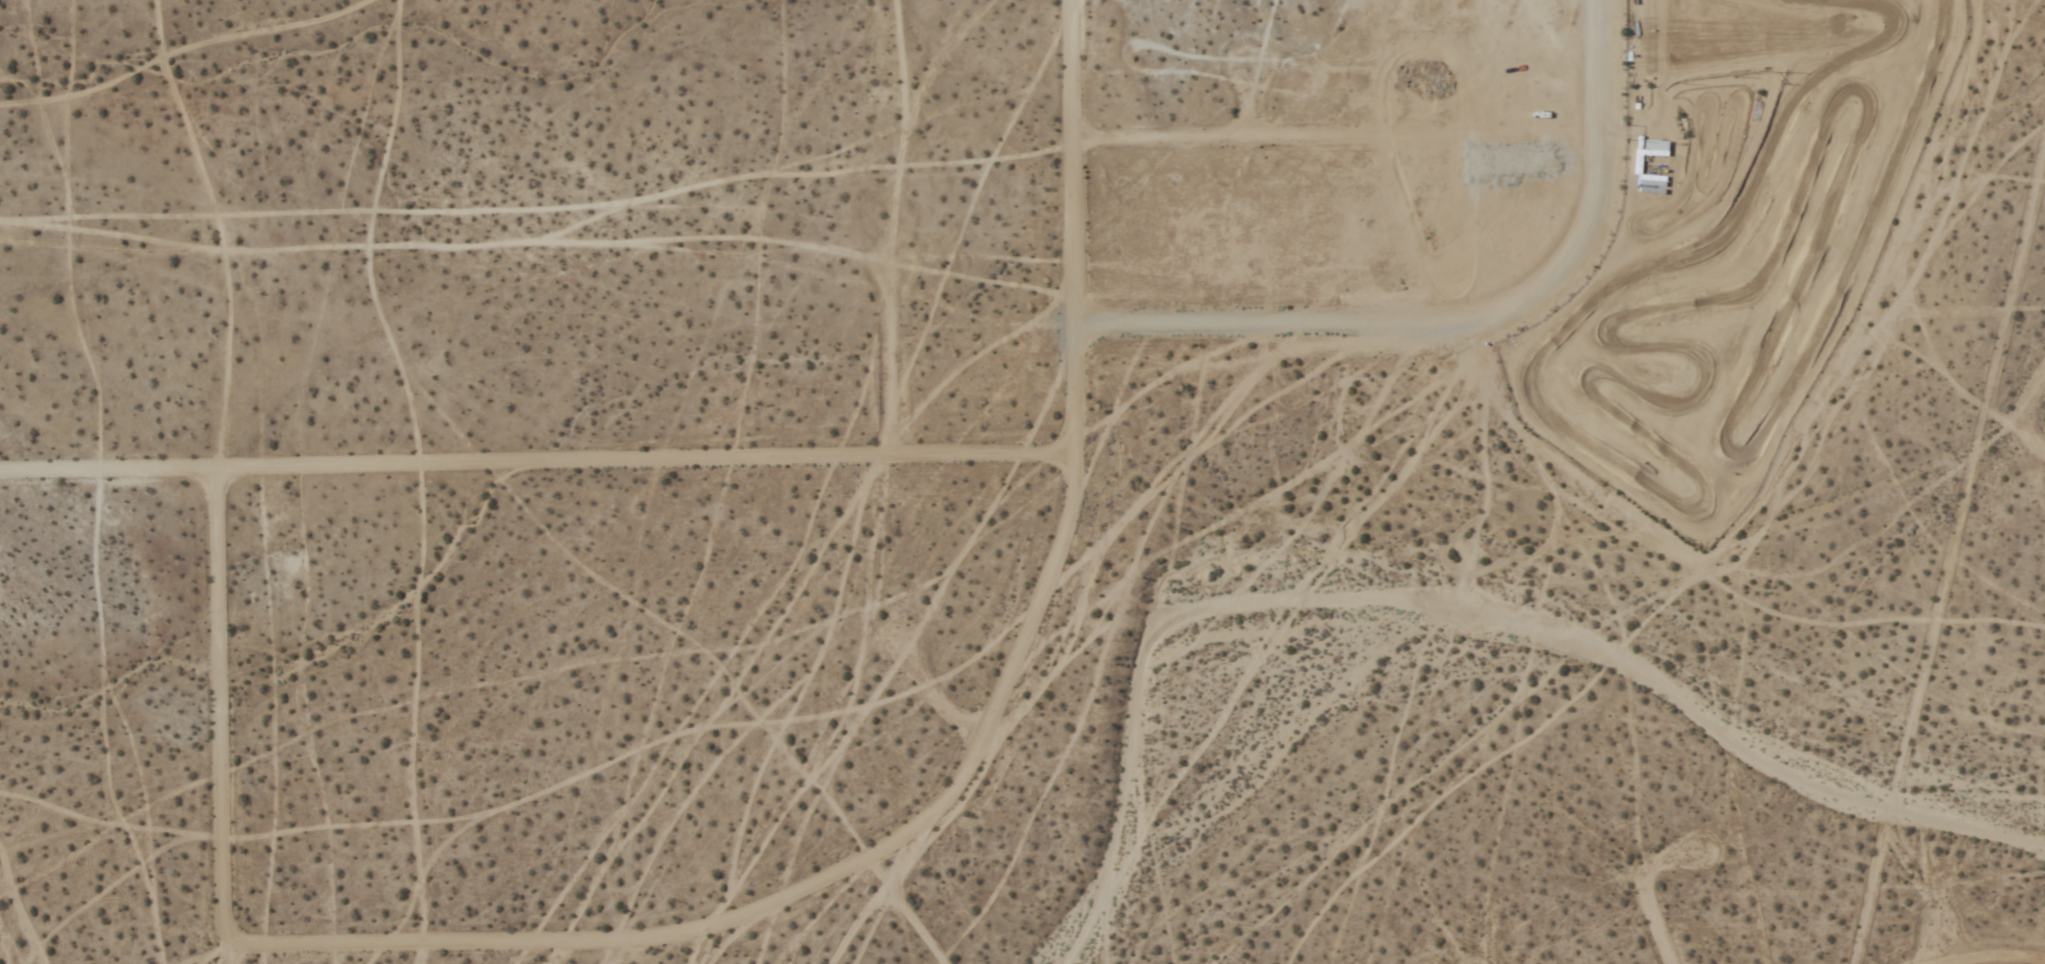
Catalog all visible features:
road: (901, 54)
road: (1596, 70)
road: (1419, 103)
road: (1248, 107)
road: (1334, 141)
building: (1651, 159)
building: (1650, 160)
road: (1395, 326)
road: (890, 351)
road: (2018, 426)
road: (649, 464)
crop: (1061, 507)
raceway: (1680, 518)
road: (937, 702)
road: (221, 703)
road: (964, 780)
road: (1655, 926)
road: (1937, 941)
road: (1991, 957)

